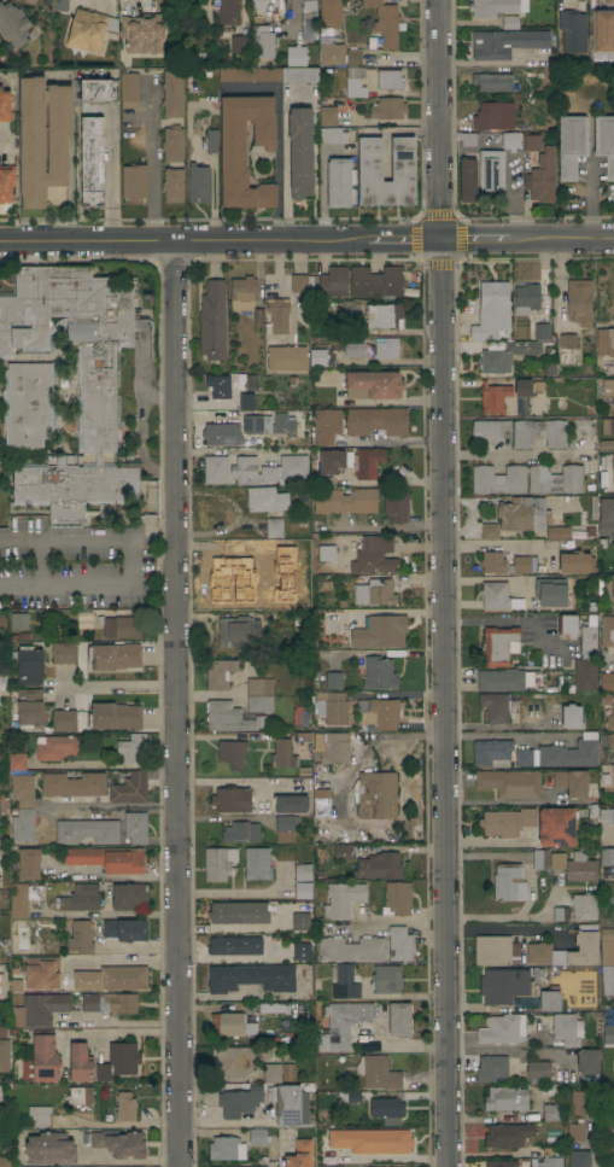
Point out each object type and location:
building: (609, 1)
road: (123, 4)
building: (59, 5)
building: (496, 10)
building: (228, 11)
building: (262, 11)
building: (331, 13)
building: (309, 19)
building: (385, 22)
building: (13, 24)
building: (602, 29)
building: (87, 30)
building: (573, 30)
building: (142, 33)
building: (240, 42)
building: (263, 42)
building: (507, 42)
building: (332, 53)
building: (297, 54)
building: (353, 57)
road: (65, 72)
building: (250, 74)
building: (300, 75)
building: (390, 80)
building: (493, 81)
building: (355, 82)
building: (129, 88)
building: (172, 92)
building: (5, 104)
building: (387, 107)
road: (70, 111)
building: (328, 115)
building: (489, 116)
building: (93, 135)
building: (332, 135)
road: (277, 136)
building: (43, 138)
building: (468, 139)
building: (212, 140)
building: (509, 140)
road: (2, 141)
building: (606, 141)
building: (172, 142)
building: (532, 142)
building: (572, 144)
building: (300, 151)
building: (233, 159)
building: (370, 159)
road: (152, 163)
building: (491, 168)
road: (109, 174)
building: (542, 176)
building: (468, 179)
building: (134, 181)
building: (6, 182)
building: (198, 182)
building: (340, 182)
building: (174, 185)
road: (69, 191)
road: (589, 202)
road: (405, 240)
road: (473, 240)
road: (561, 240)
road: (186, 243)
building: (376, 280)
building: (332, 281)
building: (299, 282)
building: (242, 292)
building: (527, 298)
building: (579, 300)
building: (492, 309)
building: (279, 314)
building: (384, 315)
building: (258, 316)
building: (212, 320)
building: (542, 331)
building: (568, 340)
building: (606, 342)
building: (353, 346)
building: (525, 346)
building: (387, 348)
building: (287, 357)
building: (318, 357)
building: (491, 361)
building: (373, 384)
building: (218, 386)
building: (527, 386)
building: (608, 386)
building: (98, 391)
building: (495, 397)
building: (247, 401)
building: (28, 403)
building: (376, 420)
building: (270, 424)
building: (327, 425)
building: (608, 425)
building: (491, 430)
building: (540, 432)
building: (222, 434)
road: (394, 444)
building: (606, 444)
road: (221, 453)
road: (513, 454)
building: (332, 460)
building: (368, 461)
building: (613, 463)
building: (215, 468)
building: (285, 468)
building: (245, 469)
building: (499, 479)
building: (555, 479)
building: (267, 498)
building: (345, 500)
building: (396, 503)
building: (524, 513)
building: (606, 515)
building: (69, 520)
building: (274, 527)
building: (491, 531)
building: (557, 531)
building: (590, 531)
building: (327, 553)
building: (374, 554)
building: (492, 561)
building: (577, 561)
building: (520, 564)
building: (244, 574)
road: (107, 580)
building: (323, 582)
road: (442, 583)
building: (374, 591)
building: (554, 591)
building: (609, 591)
building: (495, 595)
building: (2, 620)
building: (19, 620)
road: (513, 622)
building: (567, 624)
building: (122, 626)
building: (607, 630)
building: (238, 631)
building: (380, 631)
building: (589, 638)
building: (497, 644)
building: (64, 652)
building: (115, 655)
building: (29, 665)
building: (379, 672)
building: (220, 673)
building: (585, 673)
building: (333, 679)
building: (502, 679)
building: (607, 681)
road: (64, 683)
road: (119, 685)
building: (261, 685)
building: (261, 702)
road: (176, 705)
building: (495, 706)
building: (333, 707)
building: (28, 708)
building: (380, 713)
building: (115, 716)
building: (300, 716)
building: (572, 716)
building: (232, 717)
building: (64, 719)
building: (610, 720)
road: (509, 735)
building: (610, 741)
building: (55, 746)
building: (130, 747)
building: (335, 748)
building: (233, 752)
building: (492, 752)
building: (283, 753)
building: (561, 753)
building: (17, 760)
building: (510, 782)
building: (572, 782)
building: (72, 783)
building: (612, 784)
building: (129, 788)
building: (23, 789)
building: (376, 794)
building: (232, 798)
road: (498, 801)
building: (291, 803)
building: (321, 803)
road: (98, 805)
building: (607, 816)
building: (507, 821)
building: (23, 824)
building: (135, 825)
building: (557, 825)
building: (285, 828)
building: (87, 830)
building: (241, 832)
building: (341, 851)
building: (607, 856)
building: (107, 858)
building: (542, 859)
building: (29, 863)
building: (218, 863)
building: (257, 863)
building: (379, 865)
building: (574, 865)
building: (0, 871)
building: (302, 871)
road: (113, 876)
building: (508, 881)
building: (304, 889)
building: (129, 895)
building: (82, 897)
building: (397, 898)
building: (19, 899)
road: (106, 899)
building: (343, 899)
building: (584, 906)
building: (240, 911)
road: (429, 911)
road: (117, 912)
building: (561, 914)
road: (515, 918)
building: (300, 920)
road: (380, 922)
building: (125, 929)
road: (510, 929)
road: (429, 932)
building: (607, 934)
building: (81, 936)
building: (399, 943)
building: (239, 945)
building: (539, 946)
building: (303, 947)
building: (351, 947)
building: (496, 950)
building: (607, 952)
road: (121, 959)
building: (42, 973)
building: (111, 978)
building: (251, 978)
building: (387, 979)
building: (607, 980)
building: (1, 982)
building: (344, 982)
building: (16, 984)
building: (508, 986)
building: (550, 1000)
building: (110, 1002)
building: (271, 1006)
building: (40, 1008)
building: (400, 1019)
road: (116, 1021)
building: (233, 1023)
building: (341, 1023)
building: (608, 1027)
building: (502, 1028)
building: (567, 1028)
building: (4, 1031)
road: (507, 1051)
building: (4, 1055)
building: (41, 1056)
building: (235, 1058)
building: (119, 1061)
building: (80, 1062)
building: (589, 1063)
building: (491, 1068)
building: (538, 1070)
building: (279, 1072)
building: (378, 1072)
building: (81, 1096)
building: (349, 1096)
building: (505, 1098)
building: (240, 1101)
building: (586, 1101)
building: (609, 1101)
building: (286, 1103)
building: (125, 1107)
building: (387, 1108)
building: (551, 1111)
building: (35, 1118)
building: (574, 1128)
building: (508, 1134)
building: (258, 1136)
building: (372, 1139)
building: (121, 1143)
building: (51, 1148)
building: (227, 1148)
building: (609, 1148)
building: (299, 1154)
road: (596, 1156)
building: (579, 1157)
road: (116, 1159)
building: (548, 1160)
building: (5, 1161)
building: (502, 1163)
building: (250, 1165)
building: (338, 1165)

